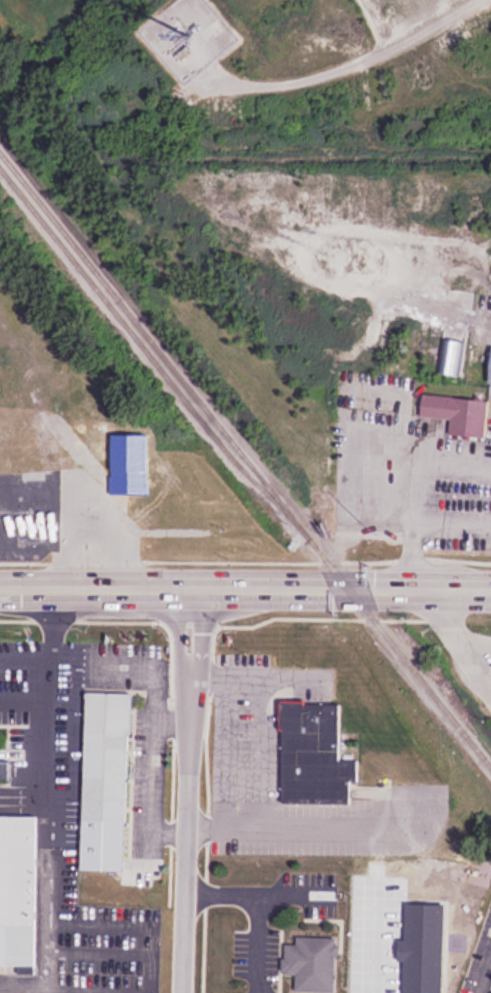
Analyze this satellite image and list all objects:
railway: (159, 349)
building: (450, 357)
building: (459, 413)
railway: (243, 470)
road: (414, 490)
road: (245, 586)
road: (49, 621)
road: (24, 655)
road: (45, 700)
road: (260, 753)
building: (315, 754)
building: (106, 781)
road: (187, 789)
building: (18, 890)
road: (254, 912)
building: (312, 963)
road: (488, 986)

